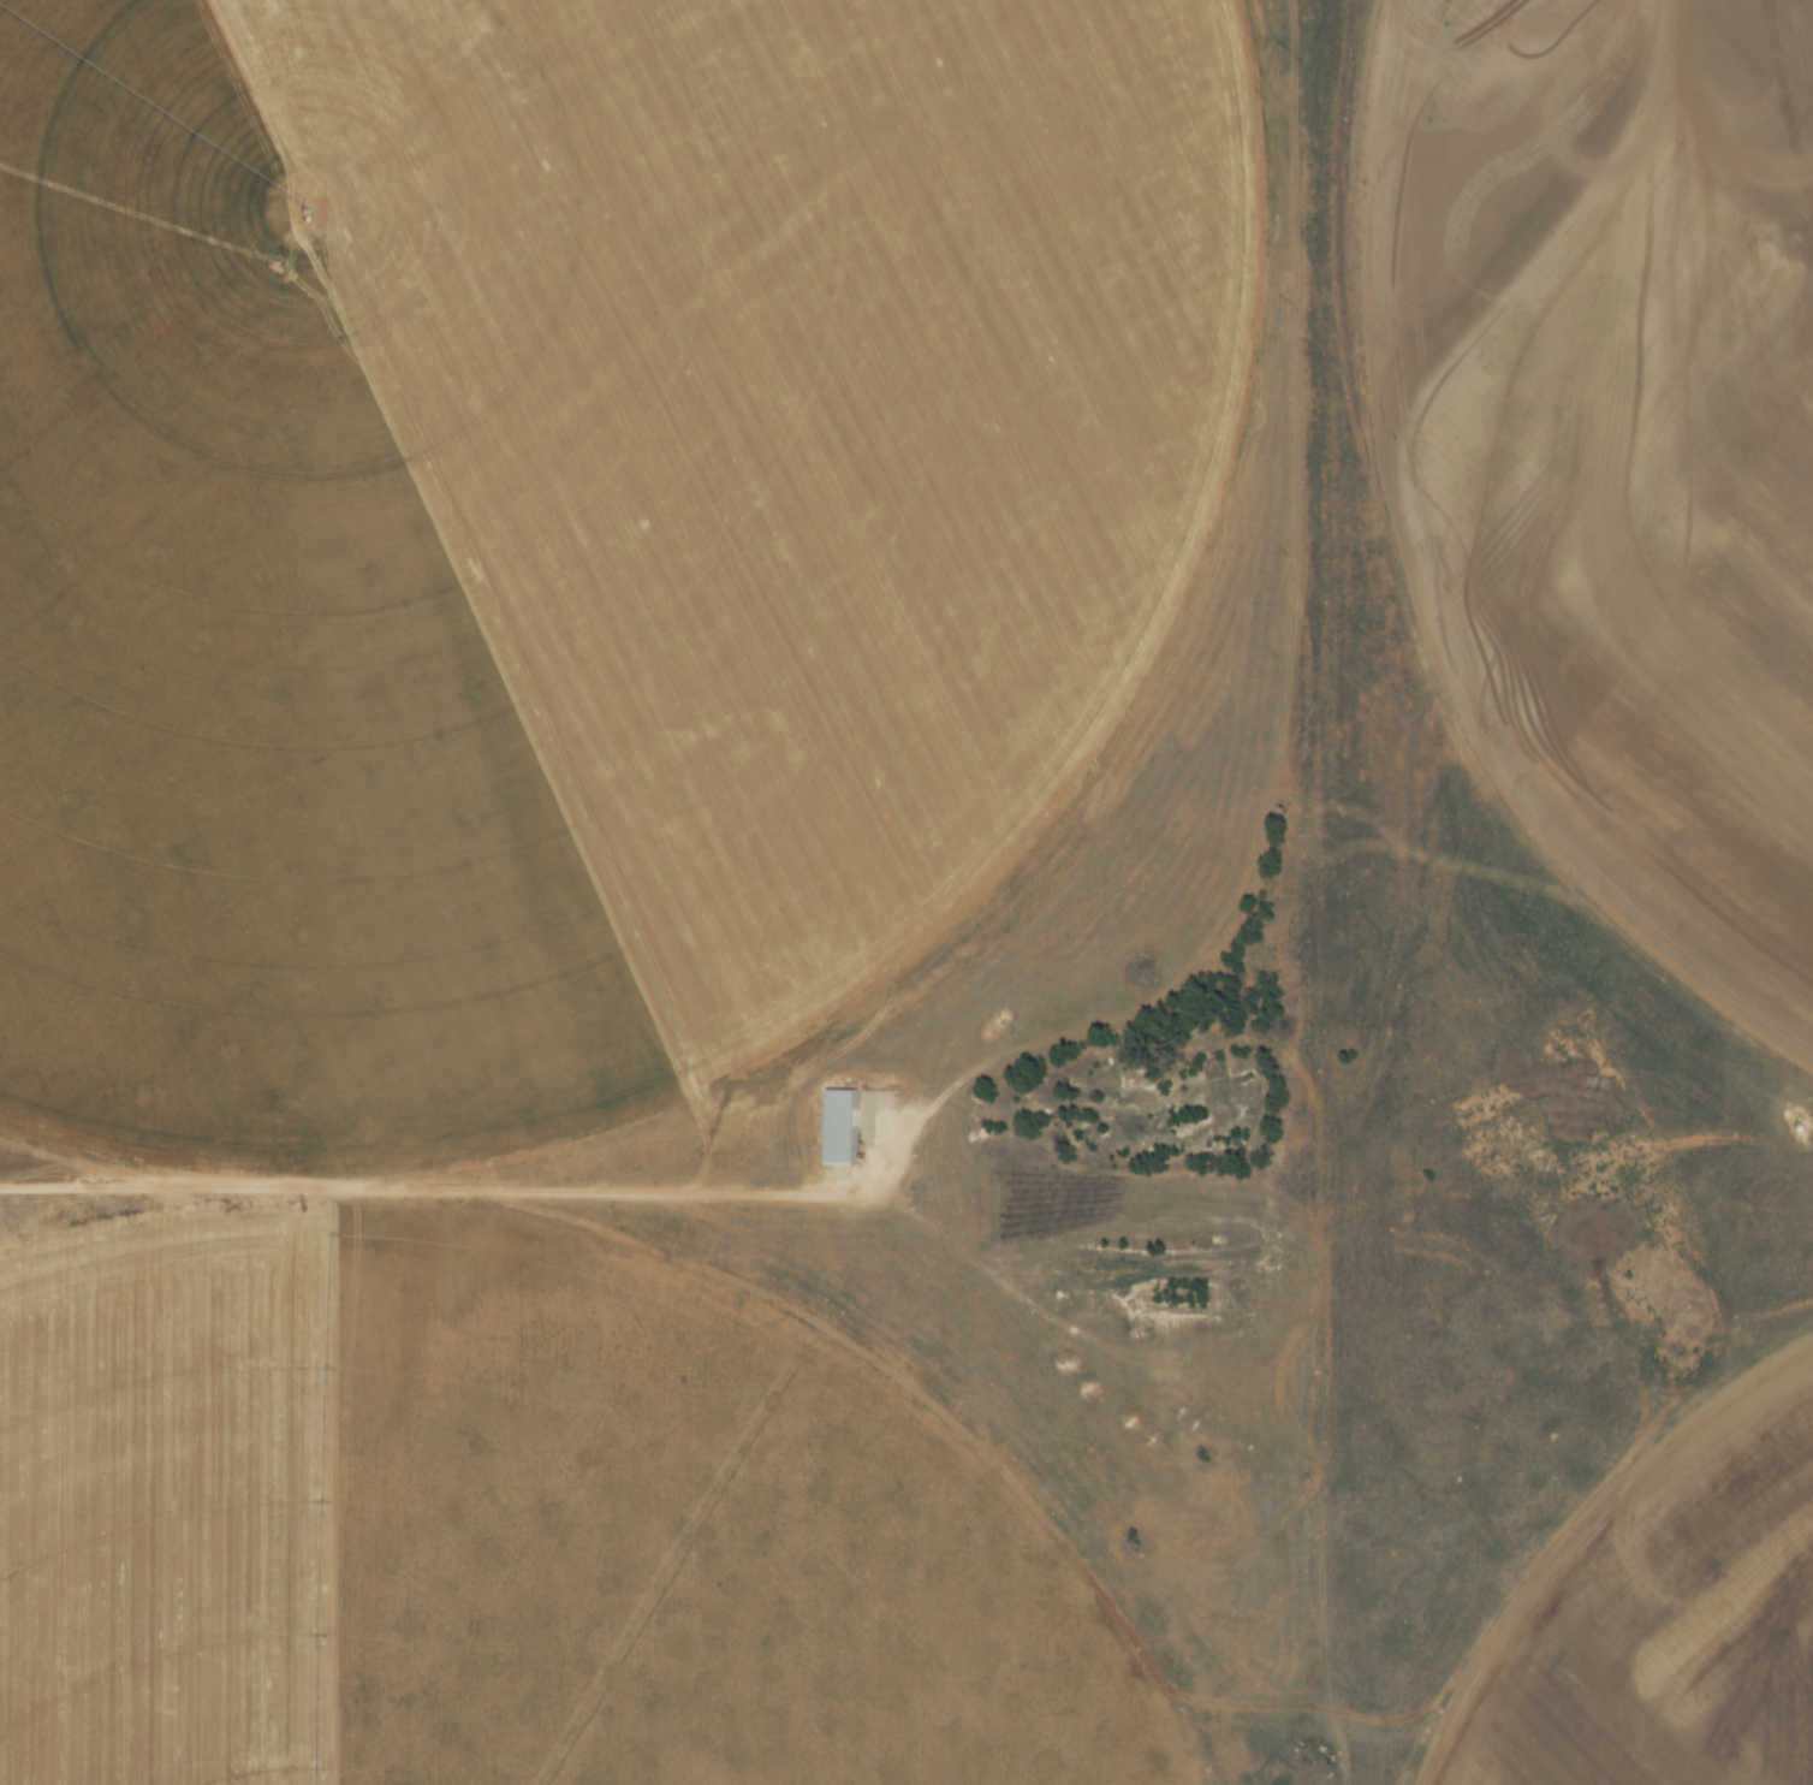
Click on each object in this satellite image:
road: (435, 1194)

